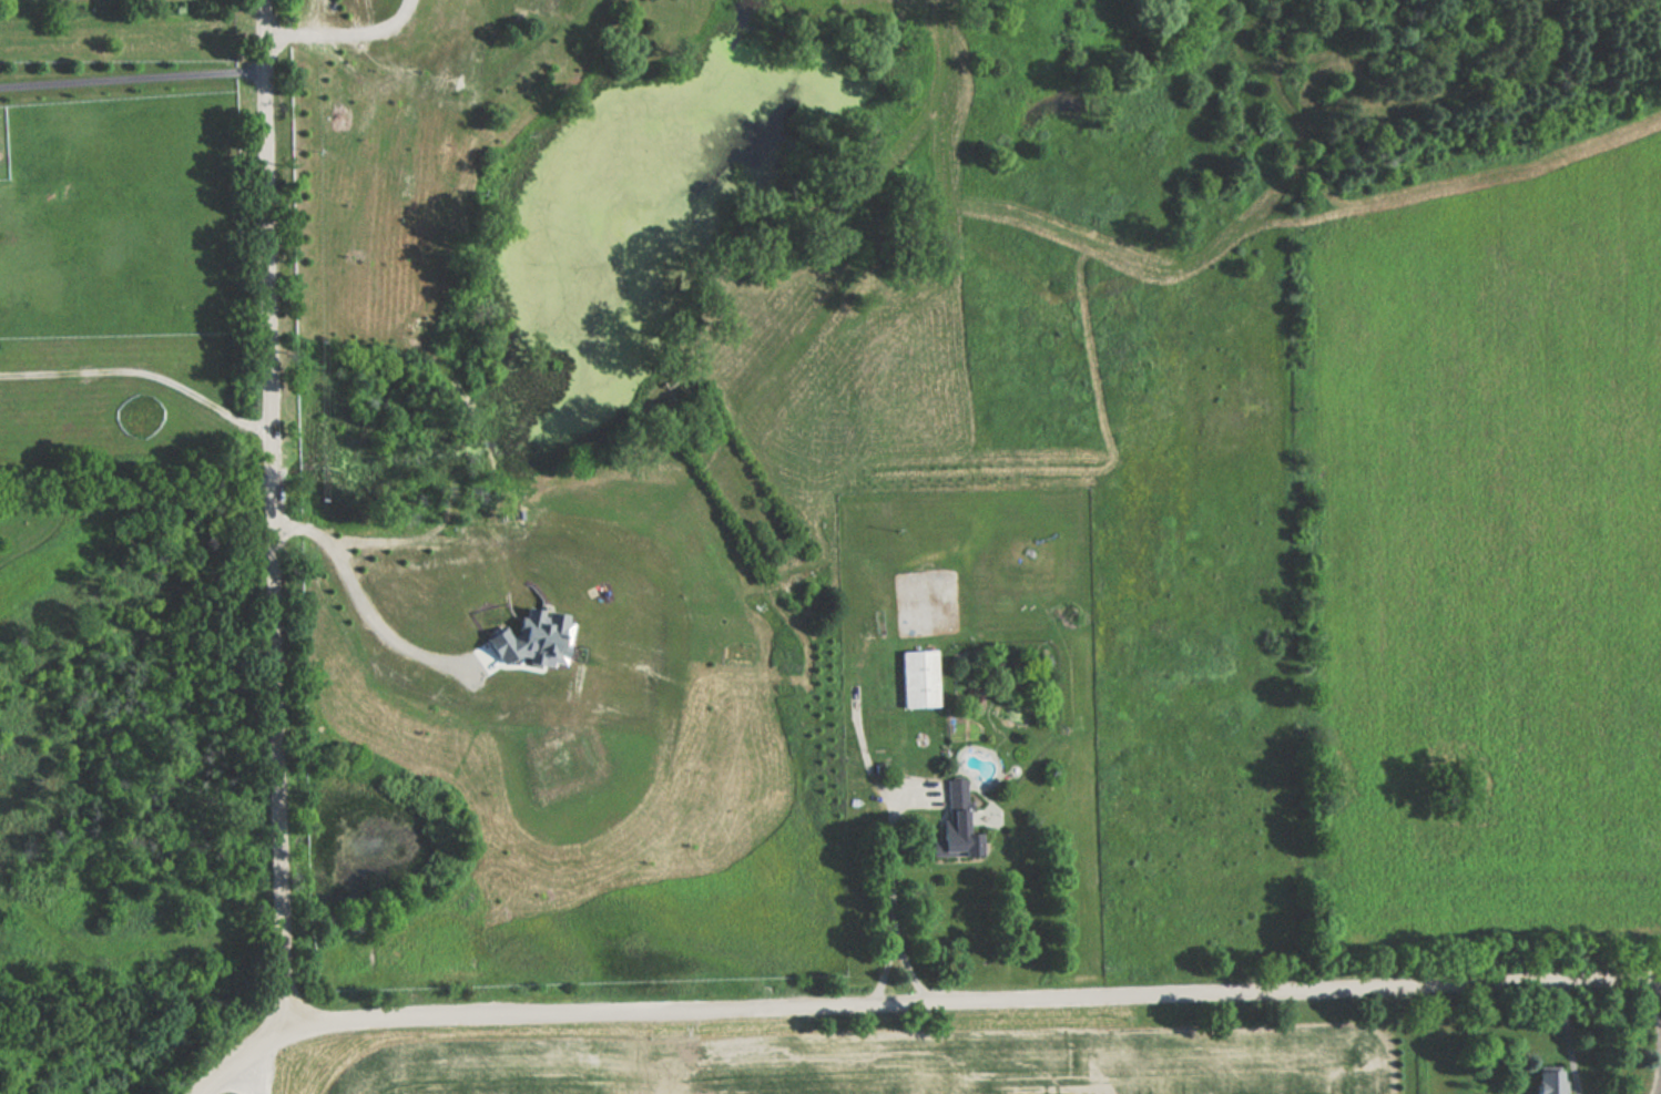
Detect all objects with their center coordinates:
road: (345, 35)
road: (130, 78)
road: (141, 374)
road: (269, 515)
road: (360, 595)
building: (918, 678)
building: (952, 824)
road: (888, 882)
road: (918, 998)
road: (1658, 1035)
road: (1567, 1036)
road: (263, 1069)
building: (1545, 1080)
road: (1659, 1090)

